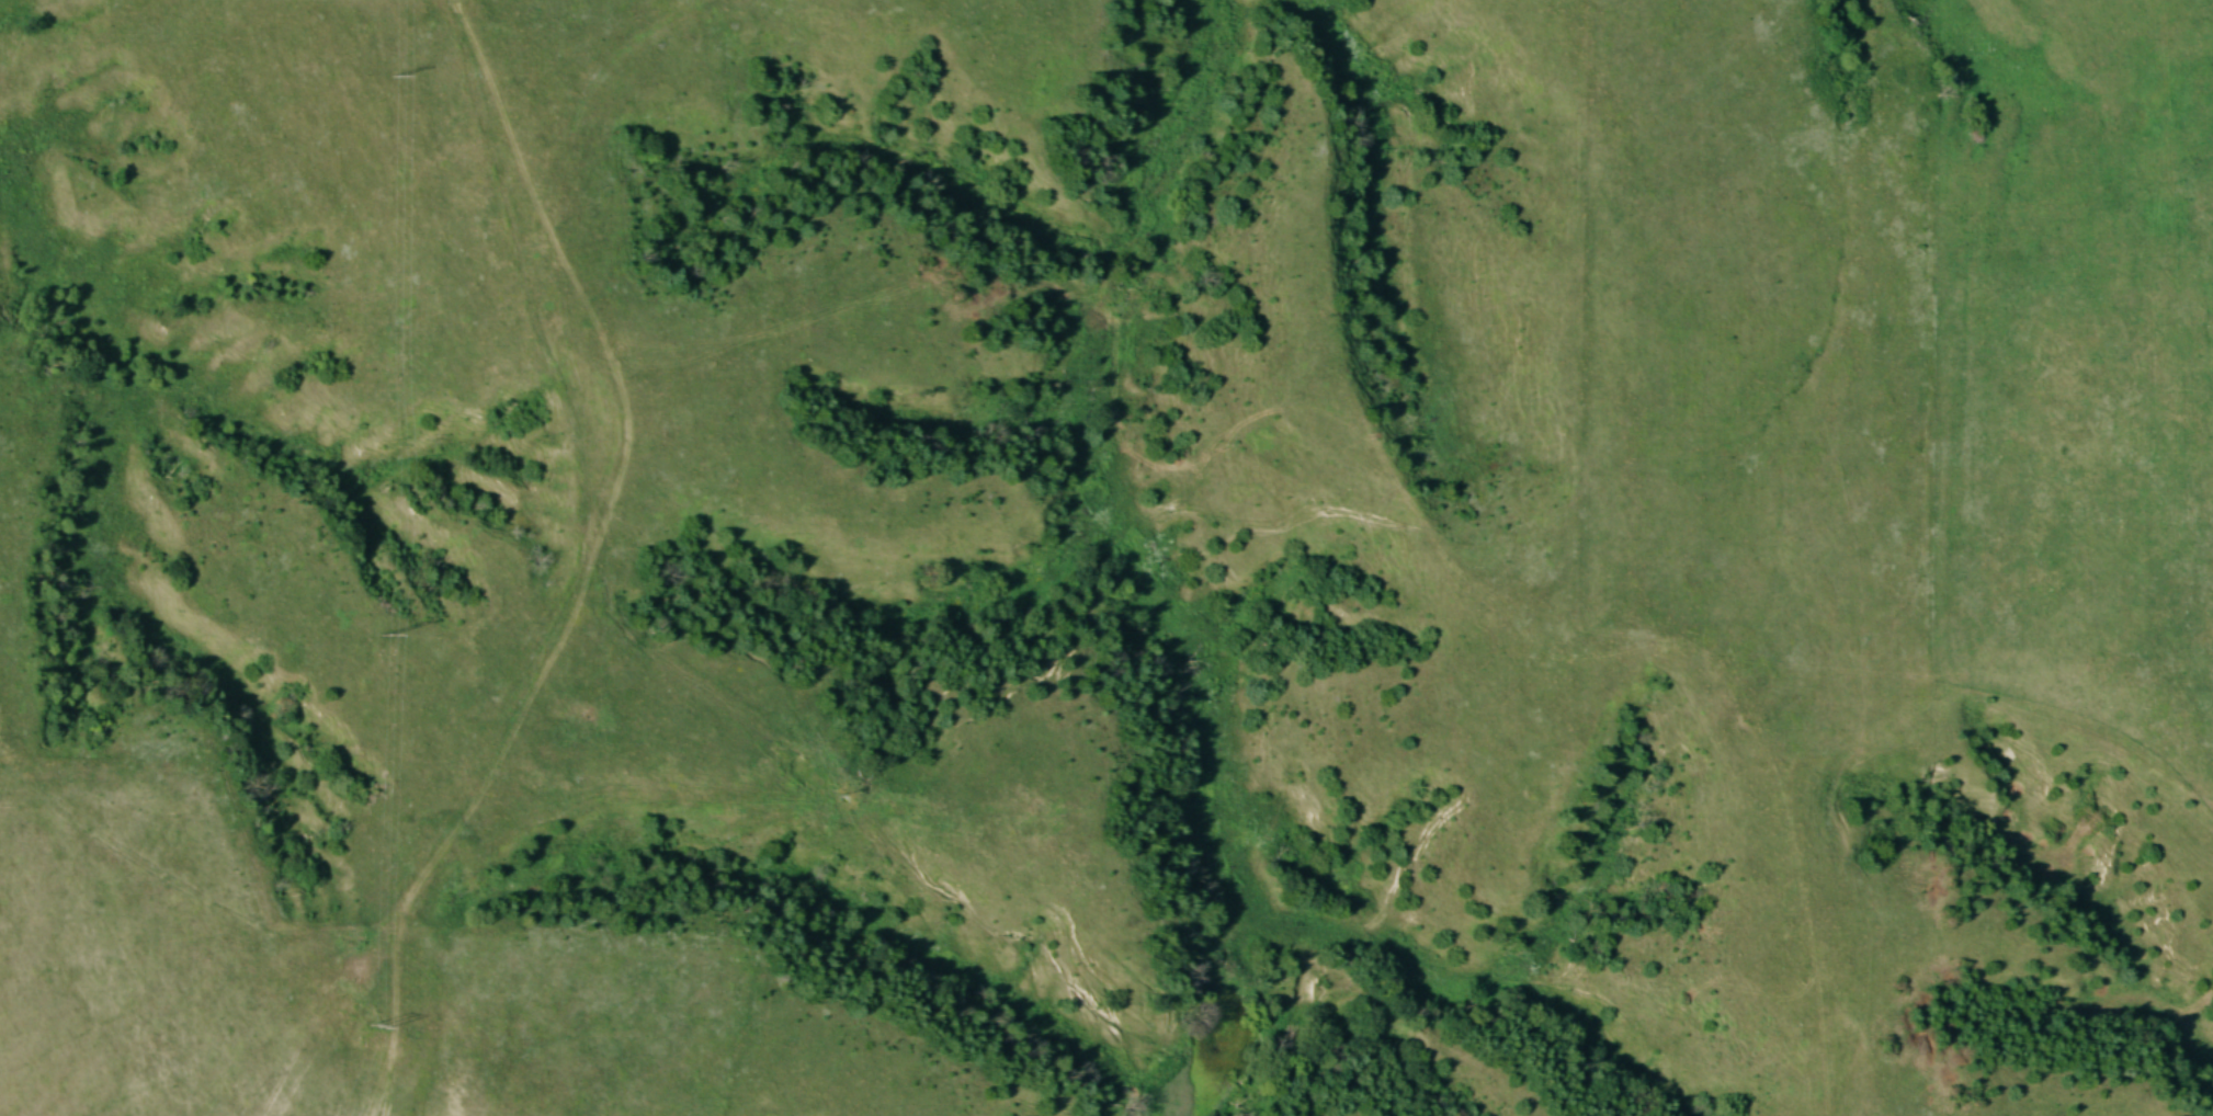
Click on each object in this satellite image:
power tower: (395, 77)
power tower: (384, 637)
power tower: (378, 1028)

